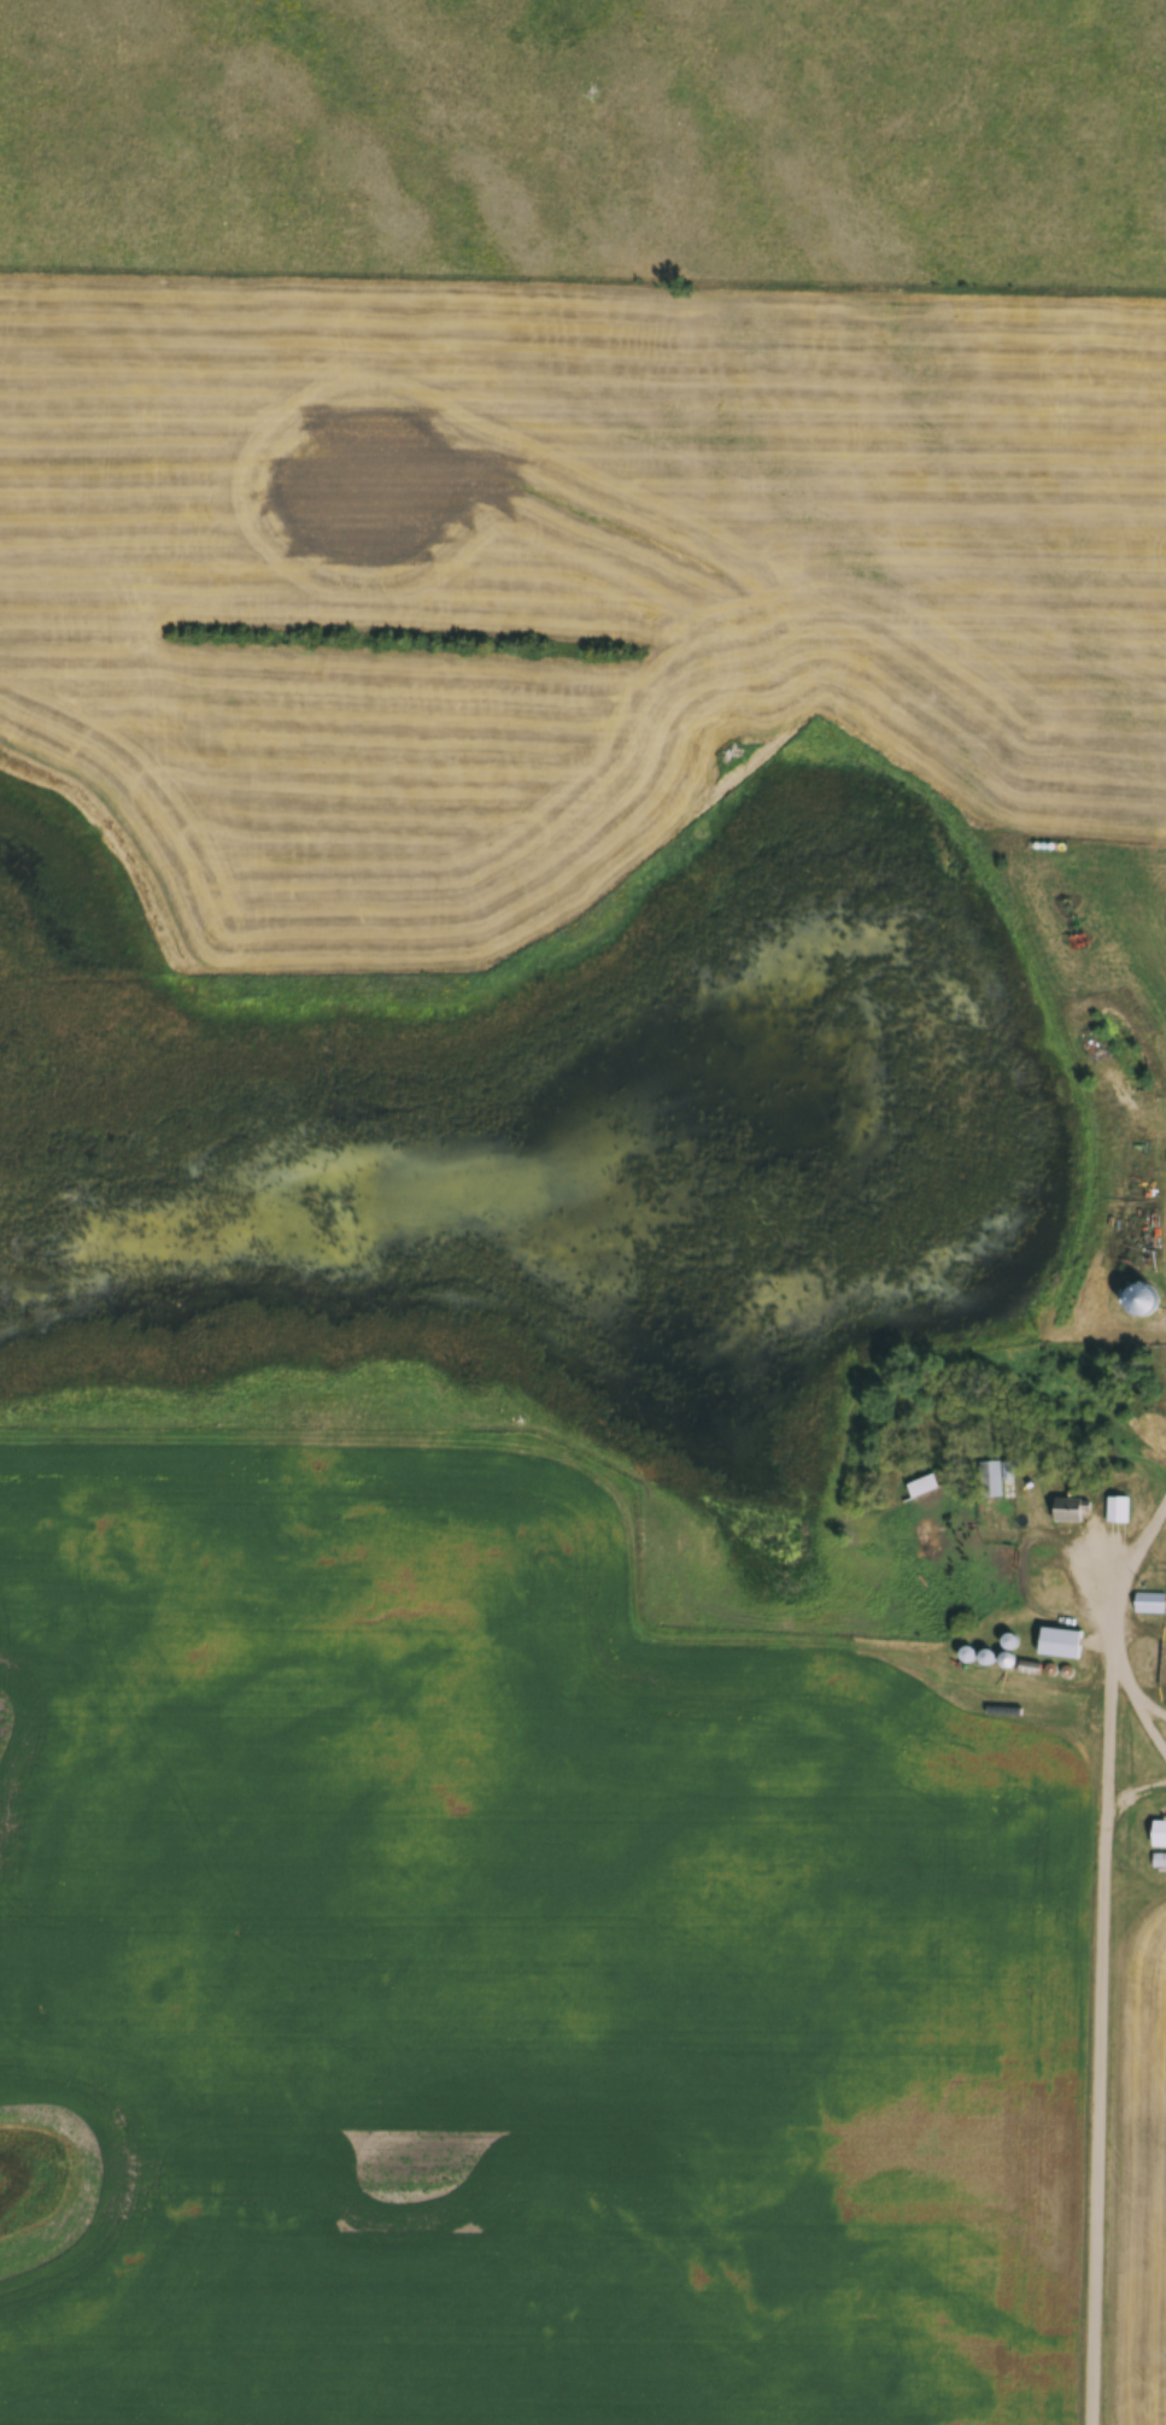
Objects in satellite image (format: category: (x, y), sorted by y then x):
building: (992, 1476)
building: (924, 1484)
building: (1117, 1507)
building: (1072, 1509)
building: (687, 1544)
building: (1149, 1601)
building: (1060, 1642)
building: (1159, 1833)
road: (1105, 1975)

